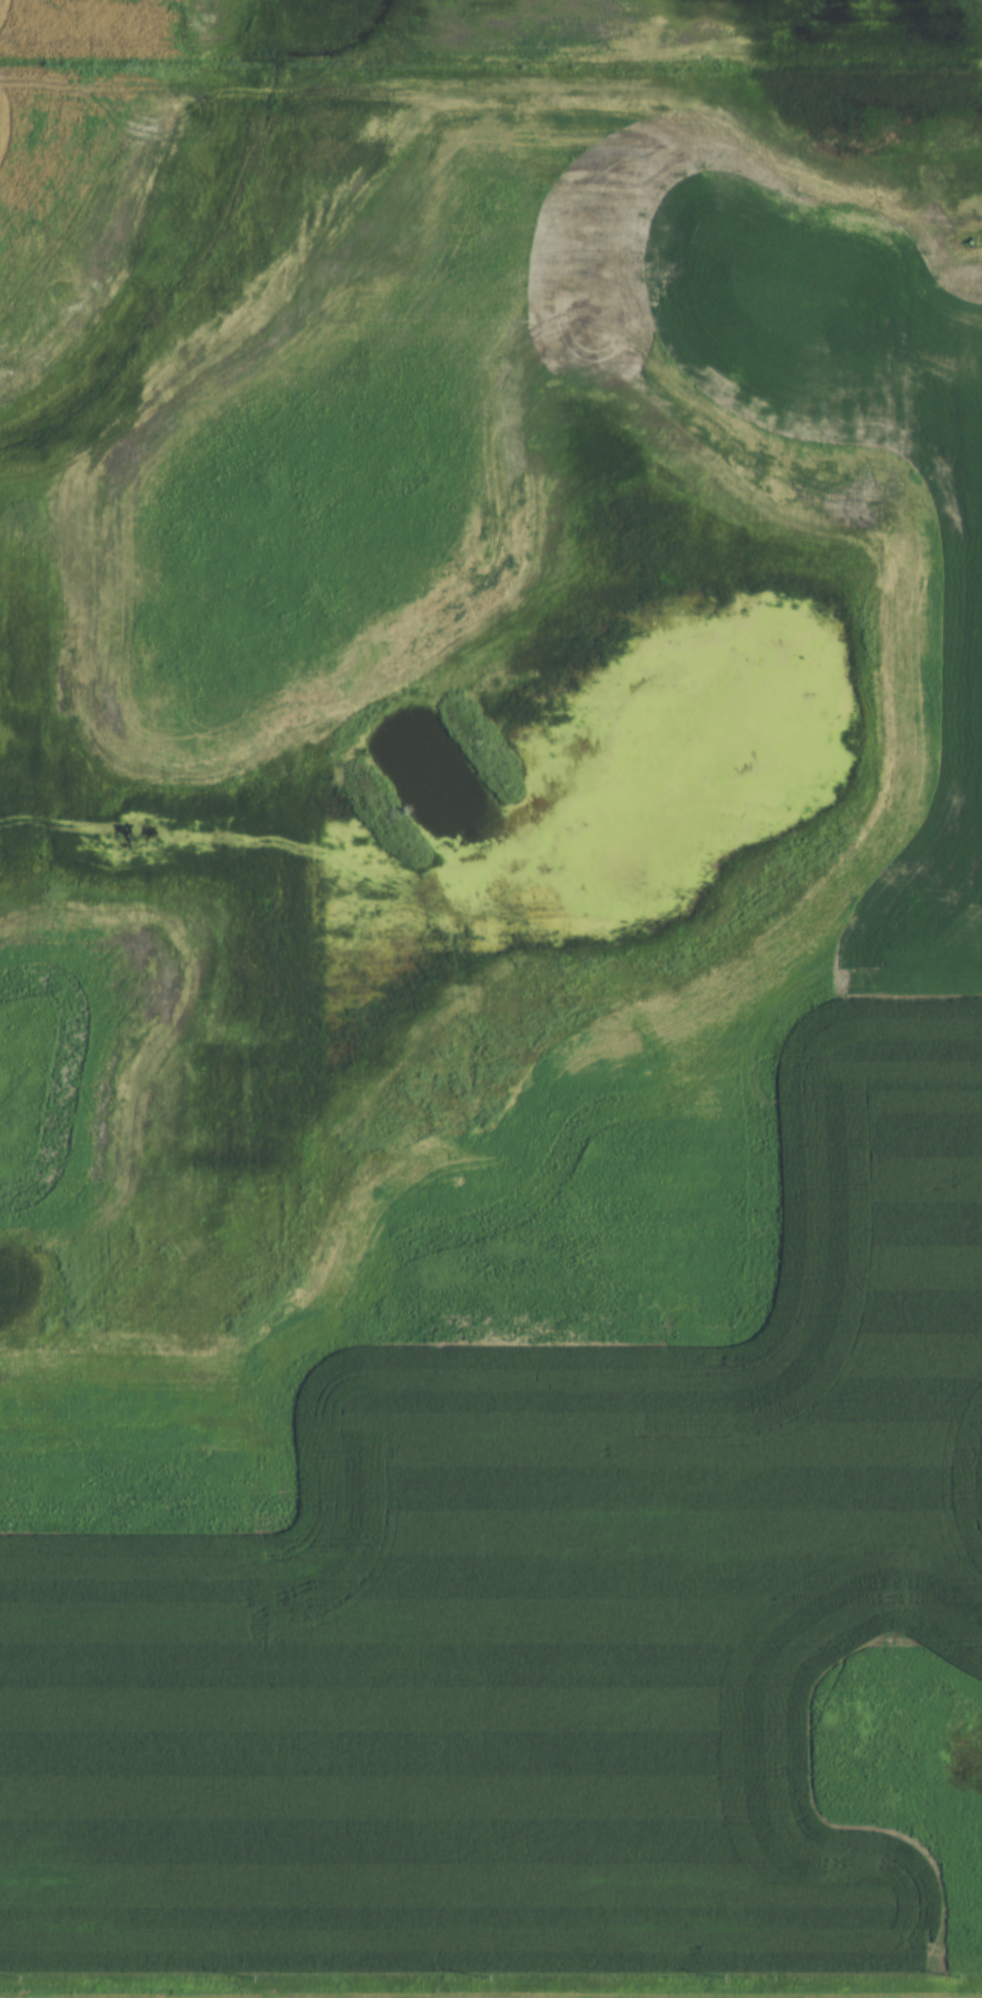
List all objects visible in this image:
crop: (365, 31)
road: (915, 248)

